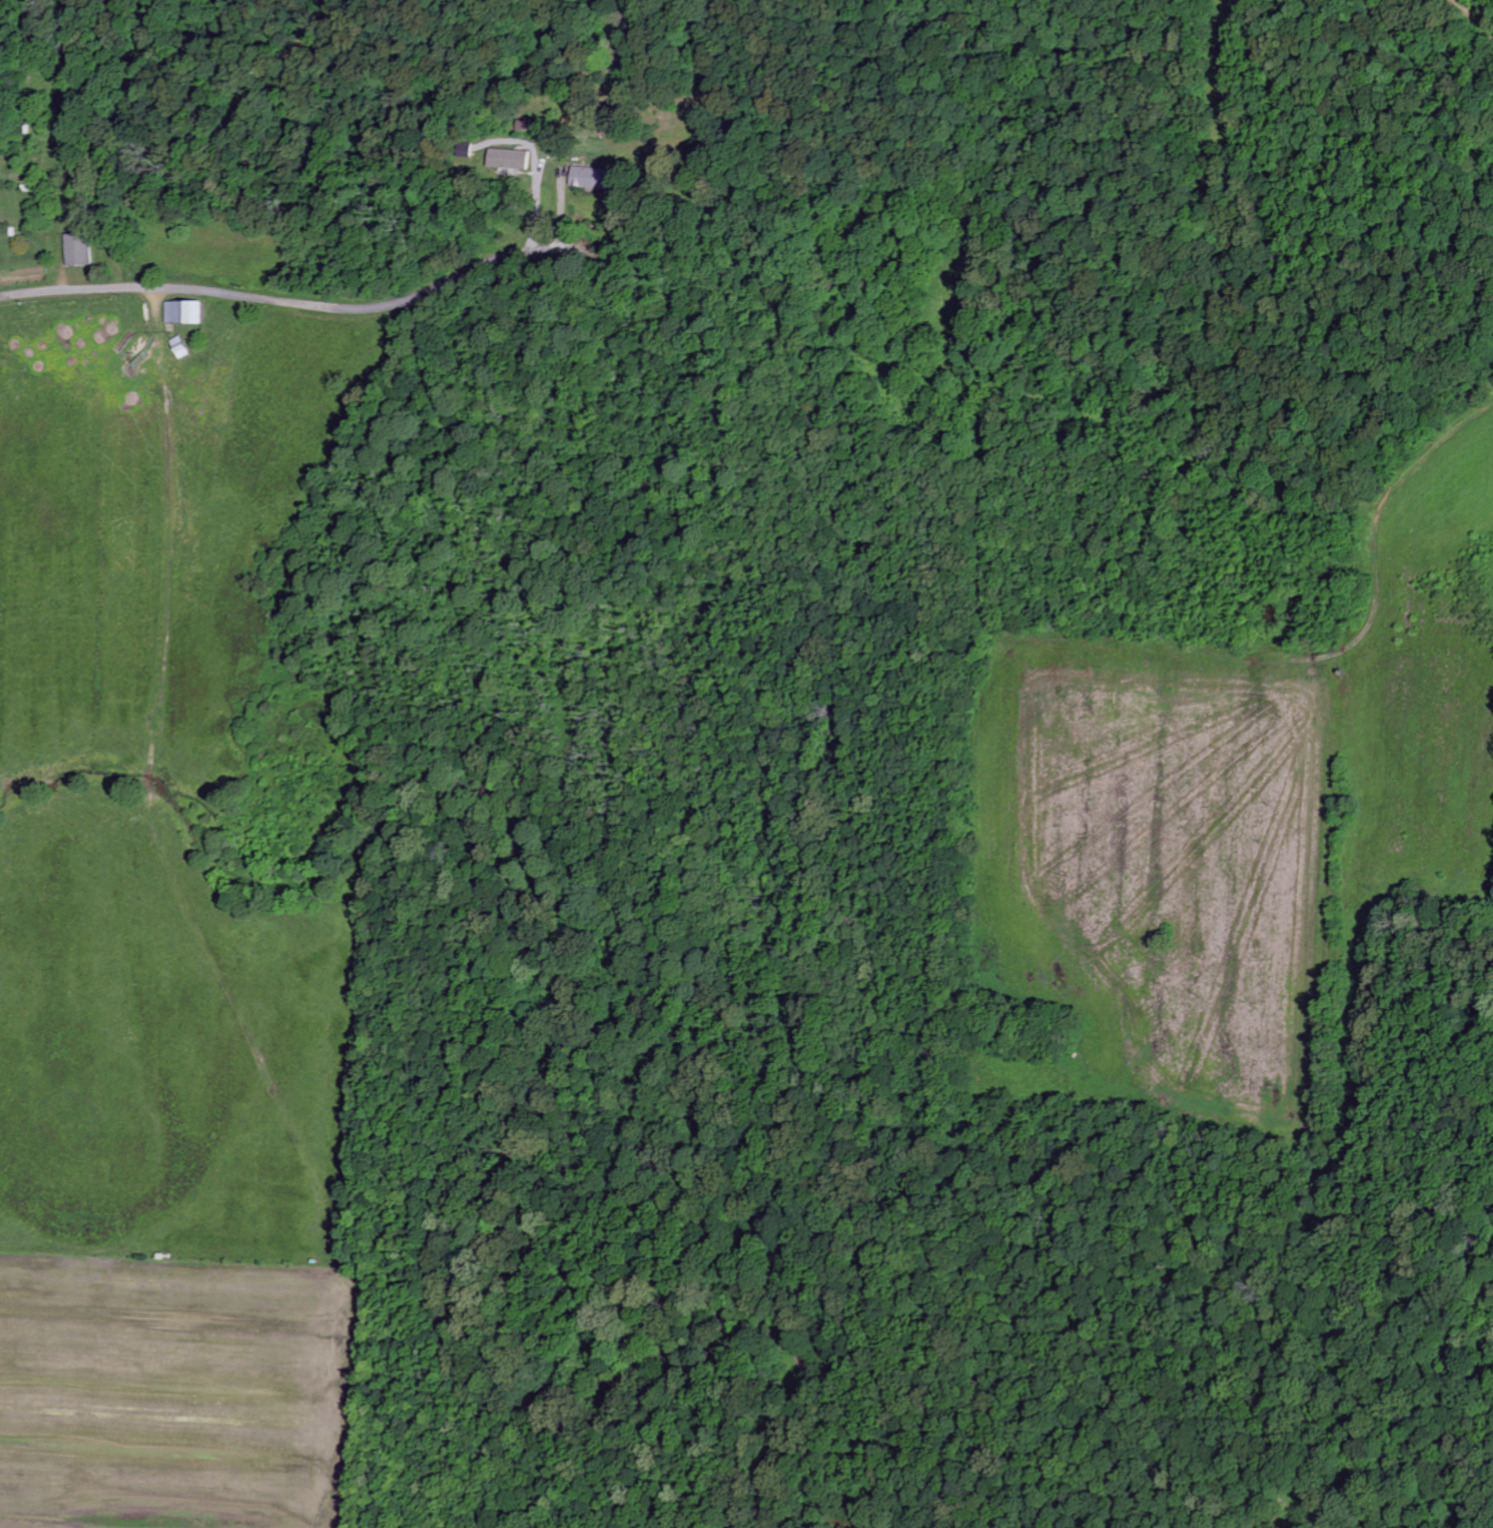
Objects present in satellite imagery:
building: (78, 252)
road: (307, 304)
building: (183, 313)

